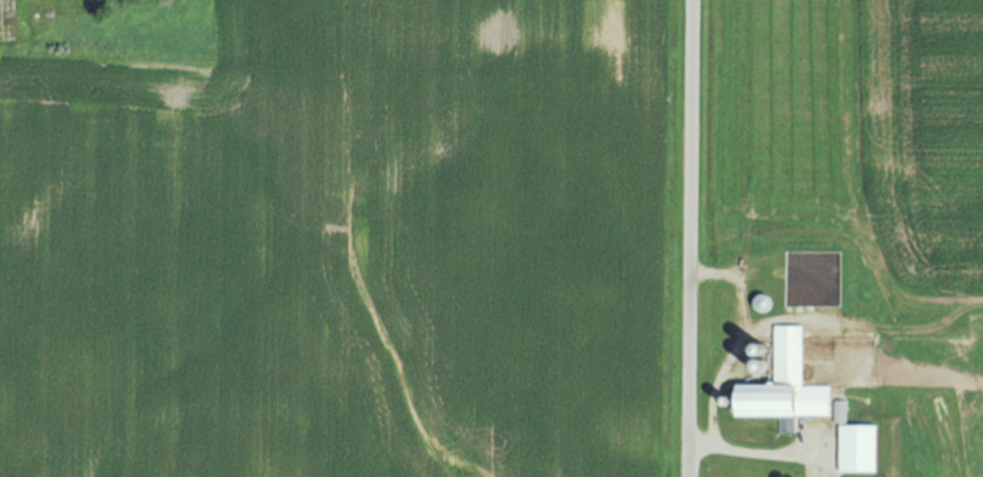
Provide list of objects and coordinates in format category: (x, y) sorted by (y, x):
road: (690, 238)
building: (782, 388)
road: (755, 452)
building: (855, 452)

